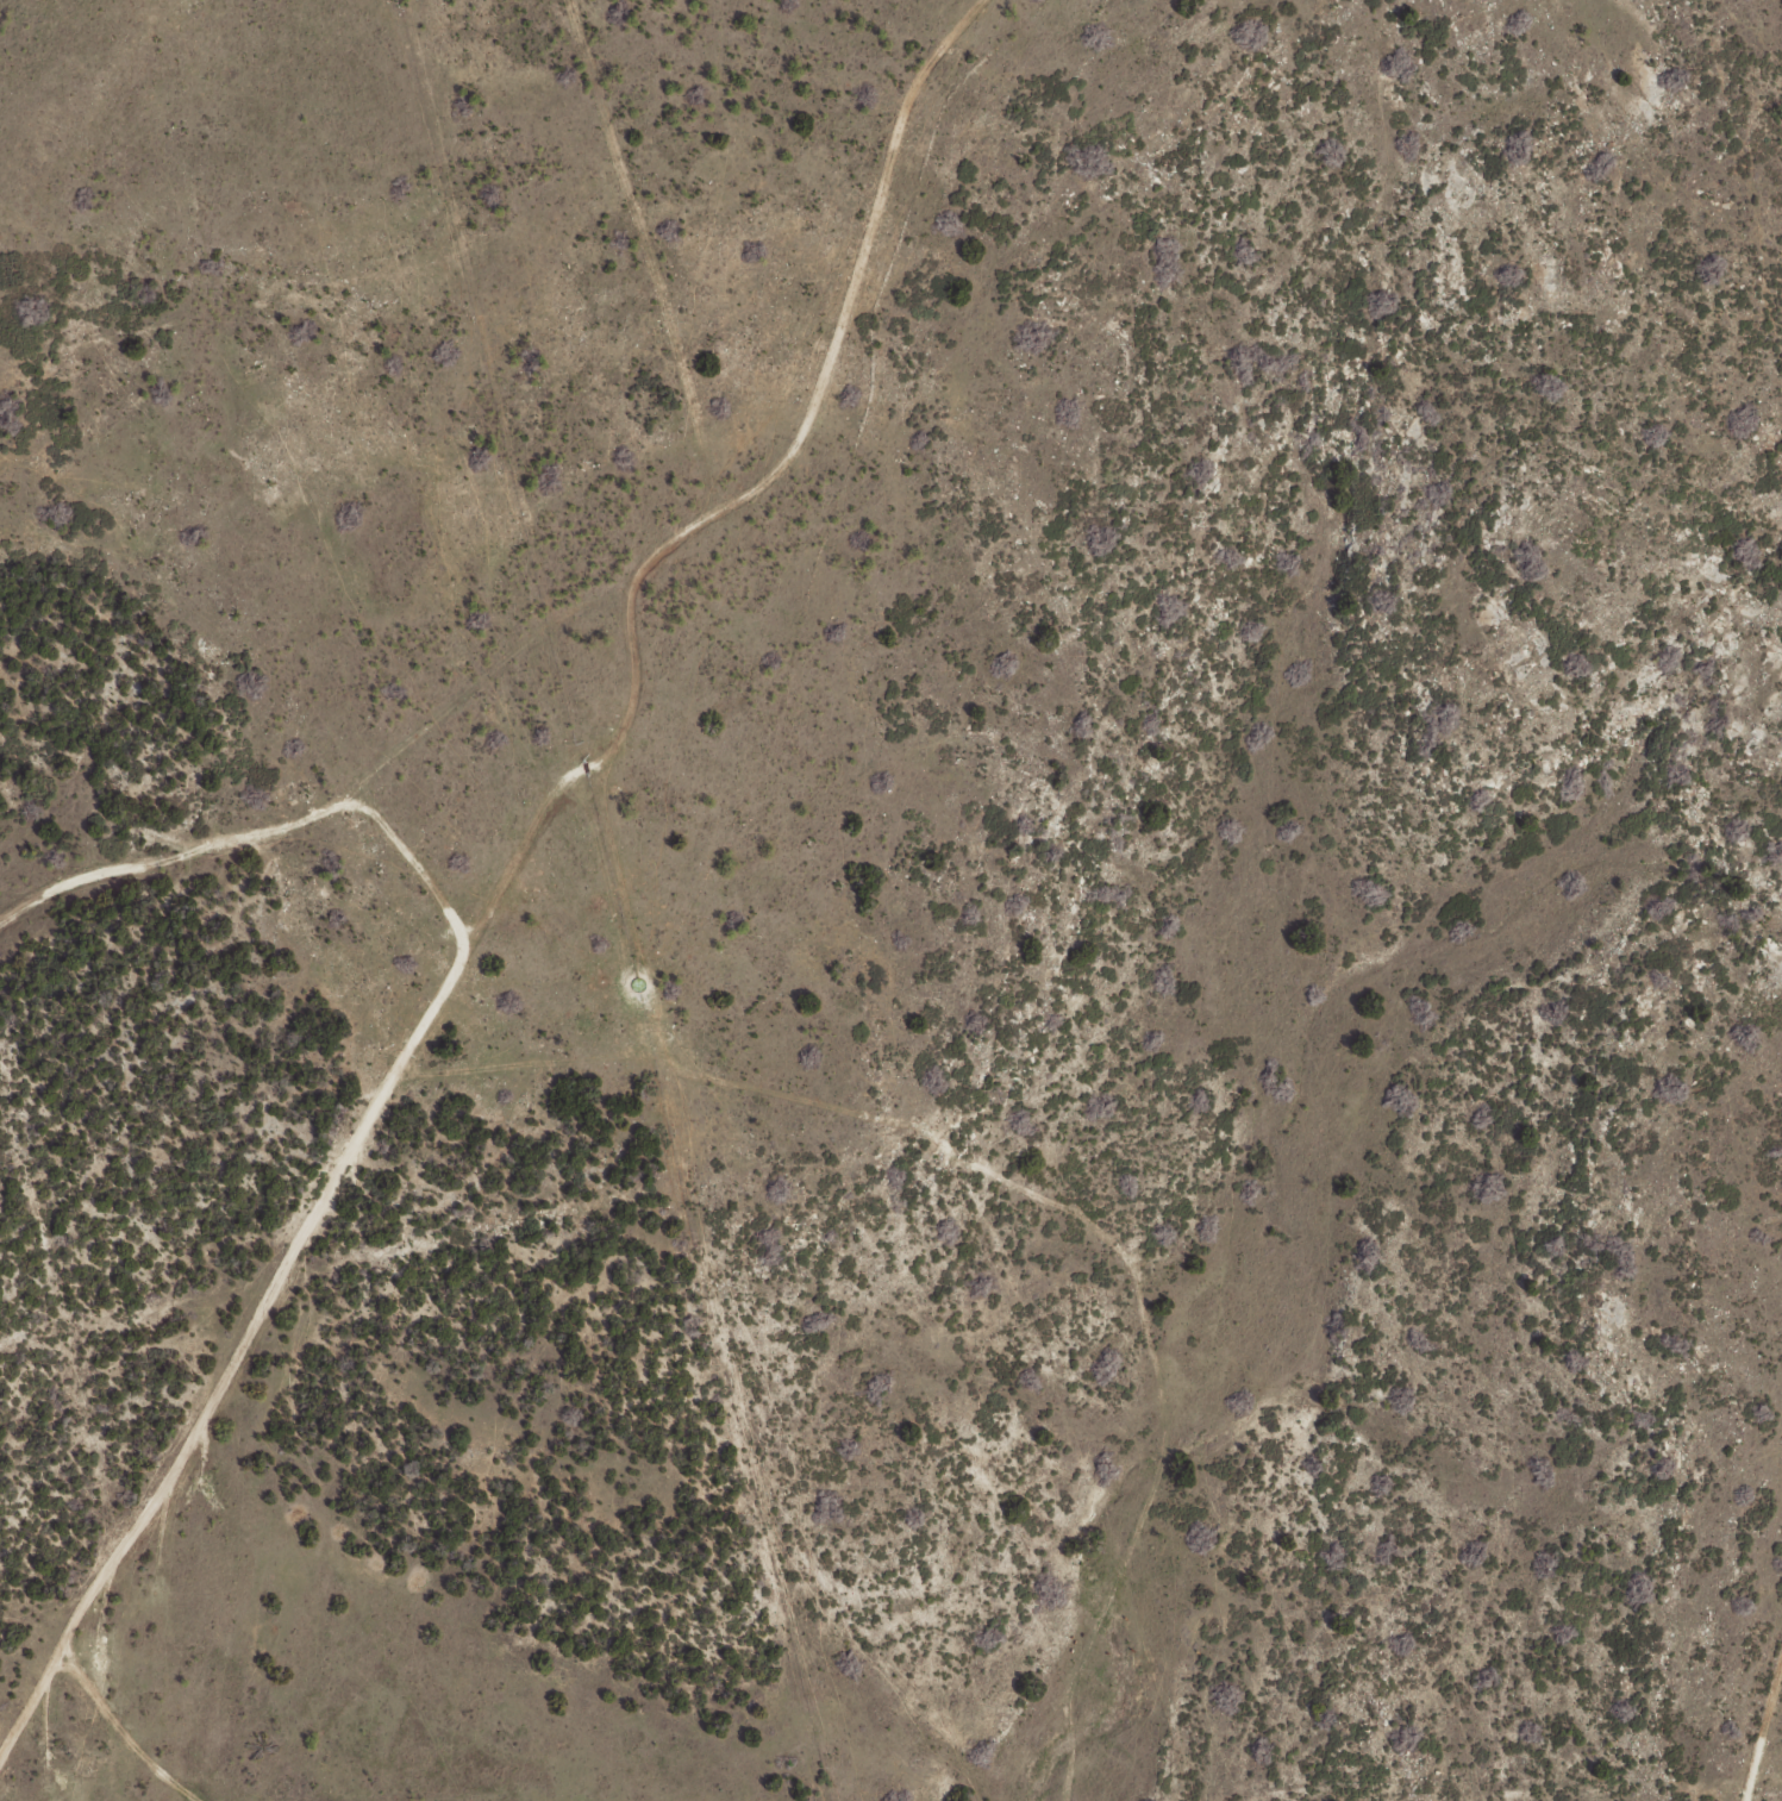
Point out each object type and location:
road: (862, 276)
road: (380, 792)
road: (371, 1131)

